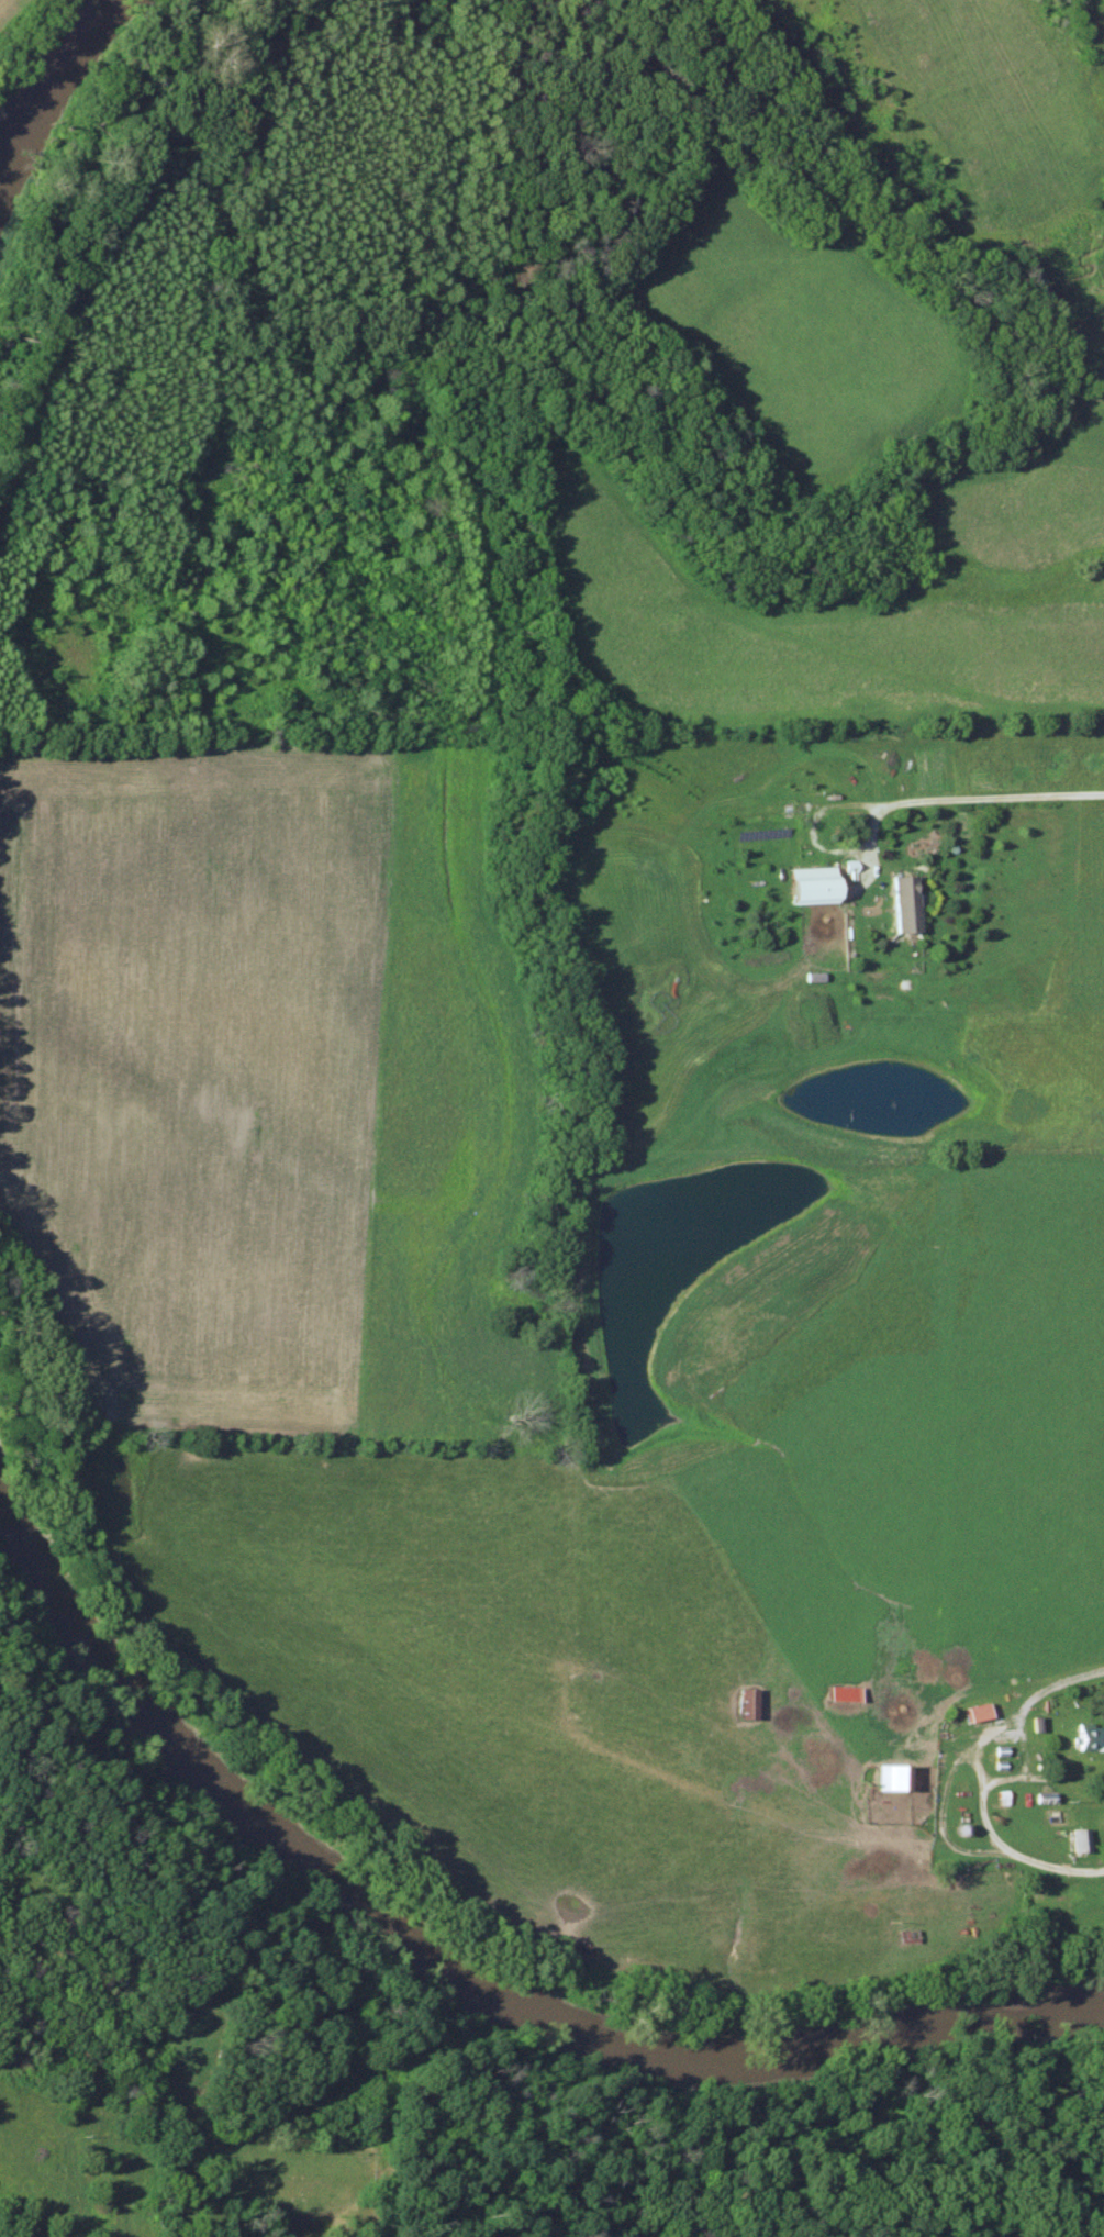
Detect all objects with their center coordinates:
river: (40, 63)
road: (988, 795)
road: (812, 839)
building: (814, 884)
building: (905, 903)
building: (747, 1701)
building: (978, 1711)
building: (1090, 1737)
building: (892, 1776)
road: (977, 1776)
building: (1075, 1839)
river: (470, 1968)
road: (118, 2102)

